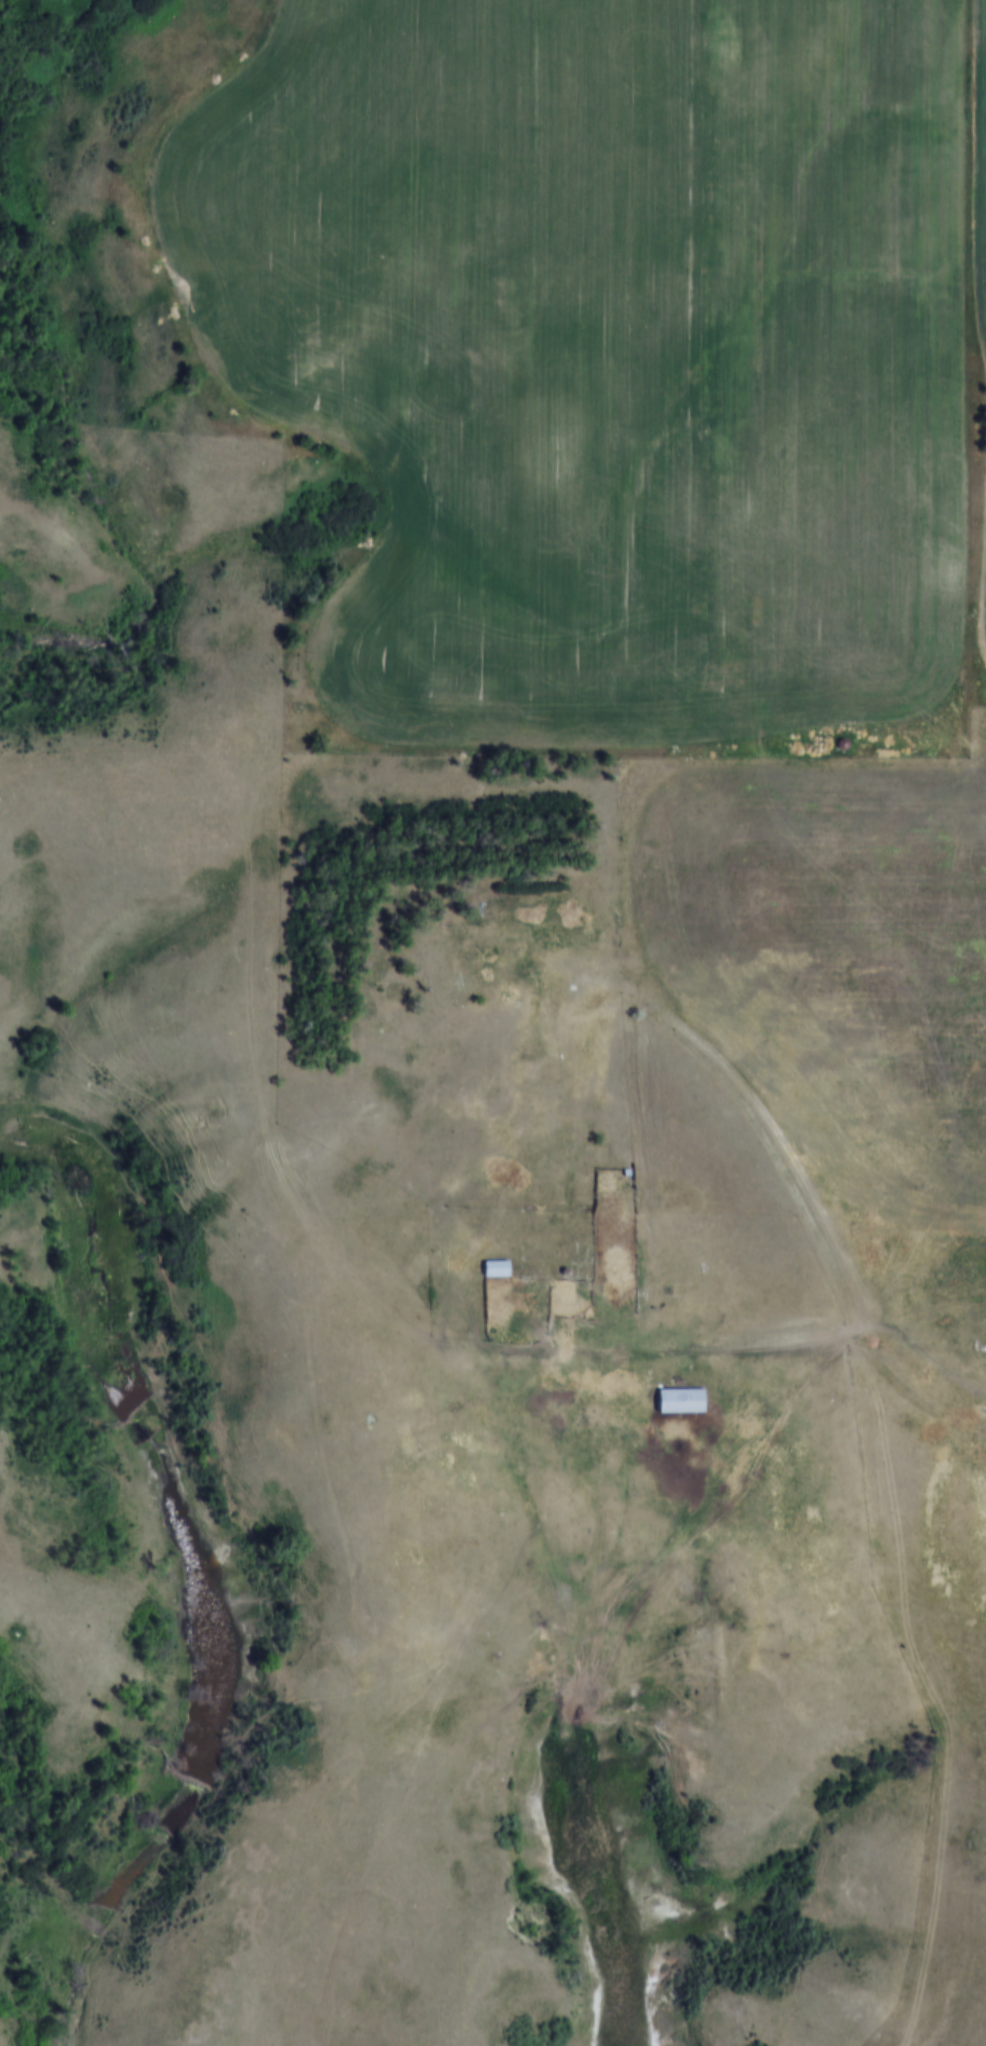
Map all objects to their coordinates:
building: (631, 1168)
road: (805, 1209)
building: (501, 1262)
building: (569, 1266)
silo: (569, 1266)
road: (774, 1336)
building: (685, 1396)

